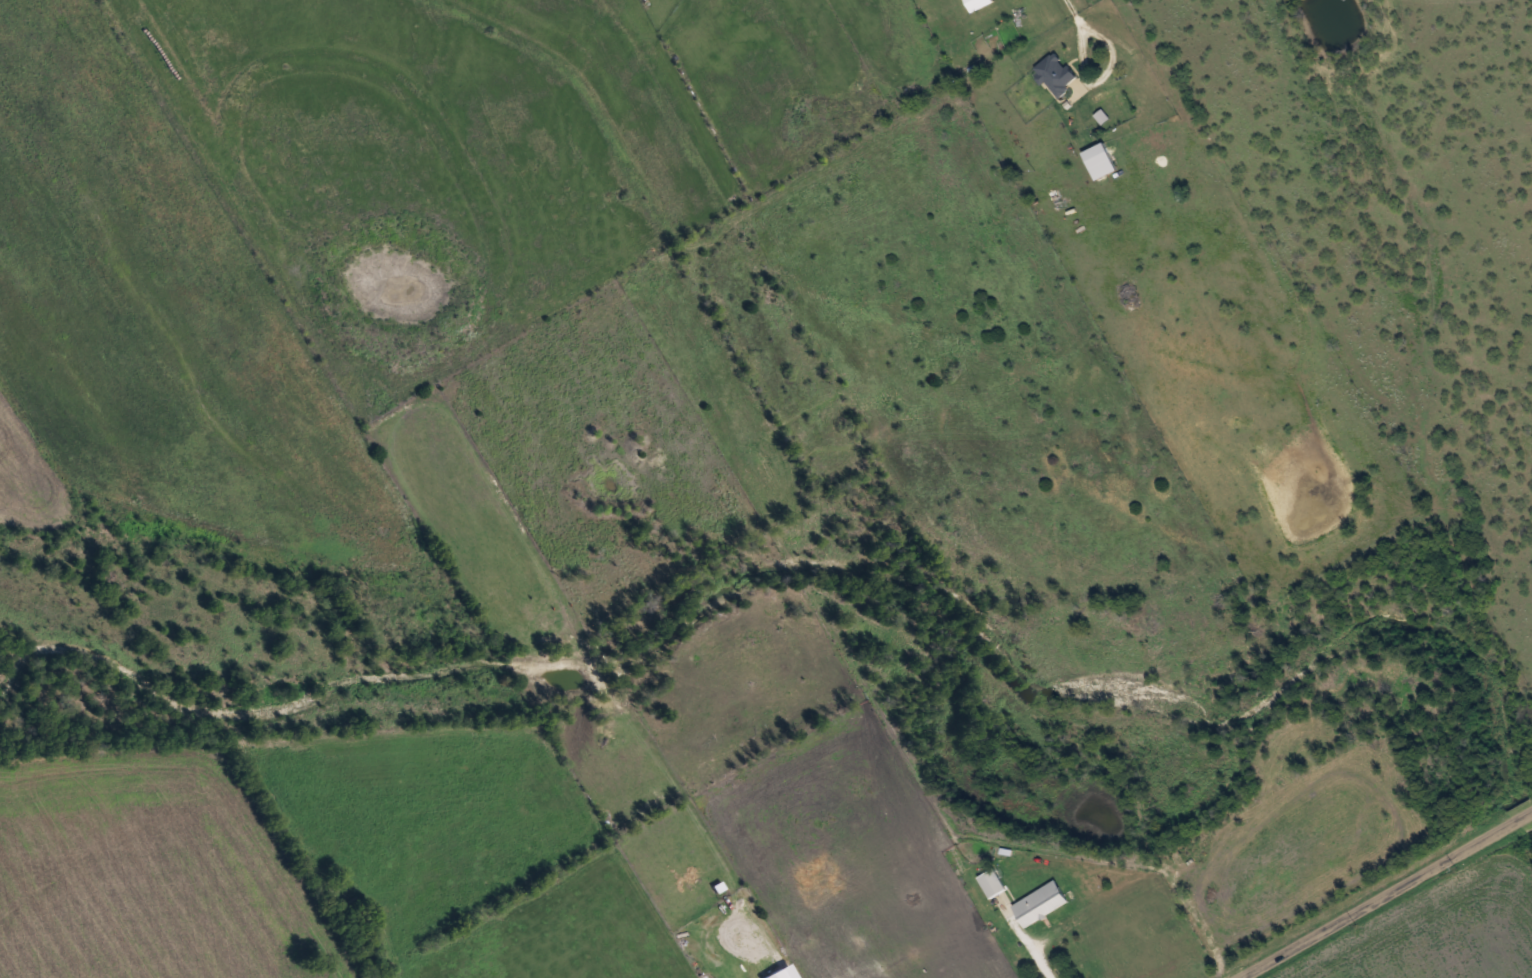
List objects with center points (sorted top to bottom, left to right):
building: (978, 3)
building: (1100, 94)
building: (992, 881)
road: (1388, 897)
building: (1040, 902)

